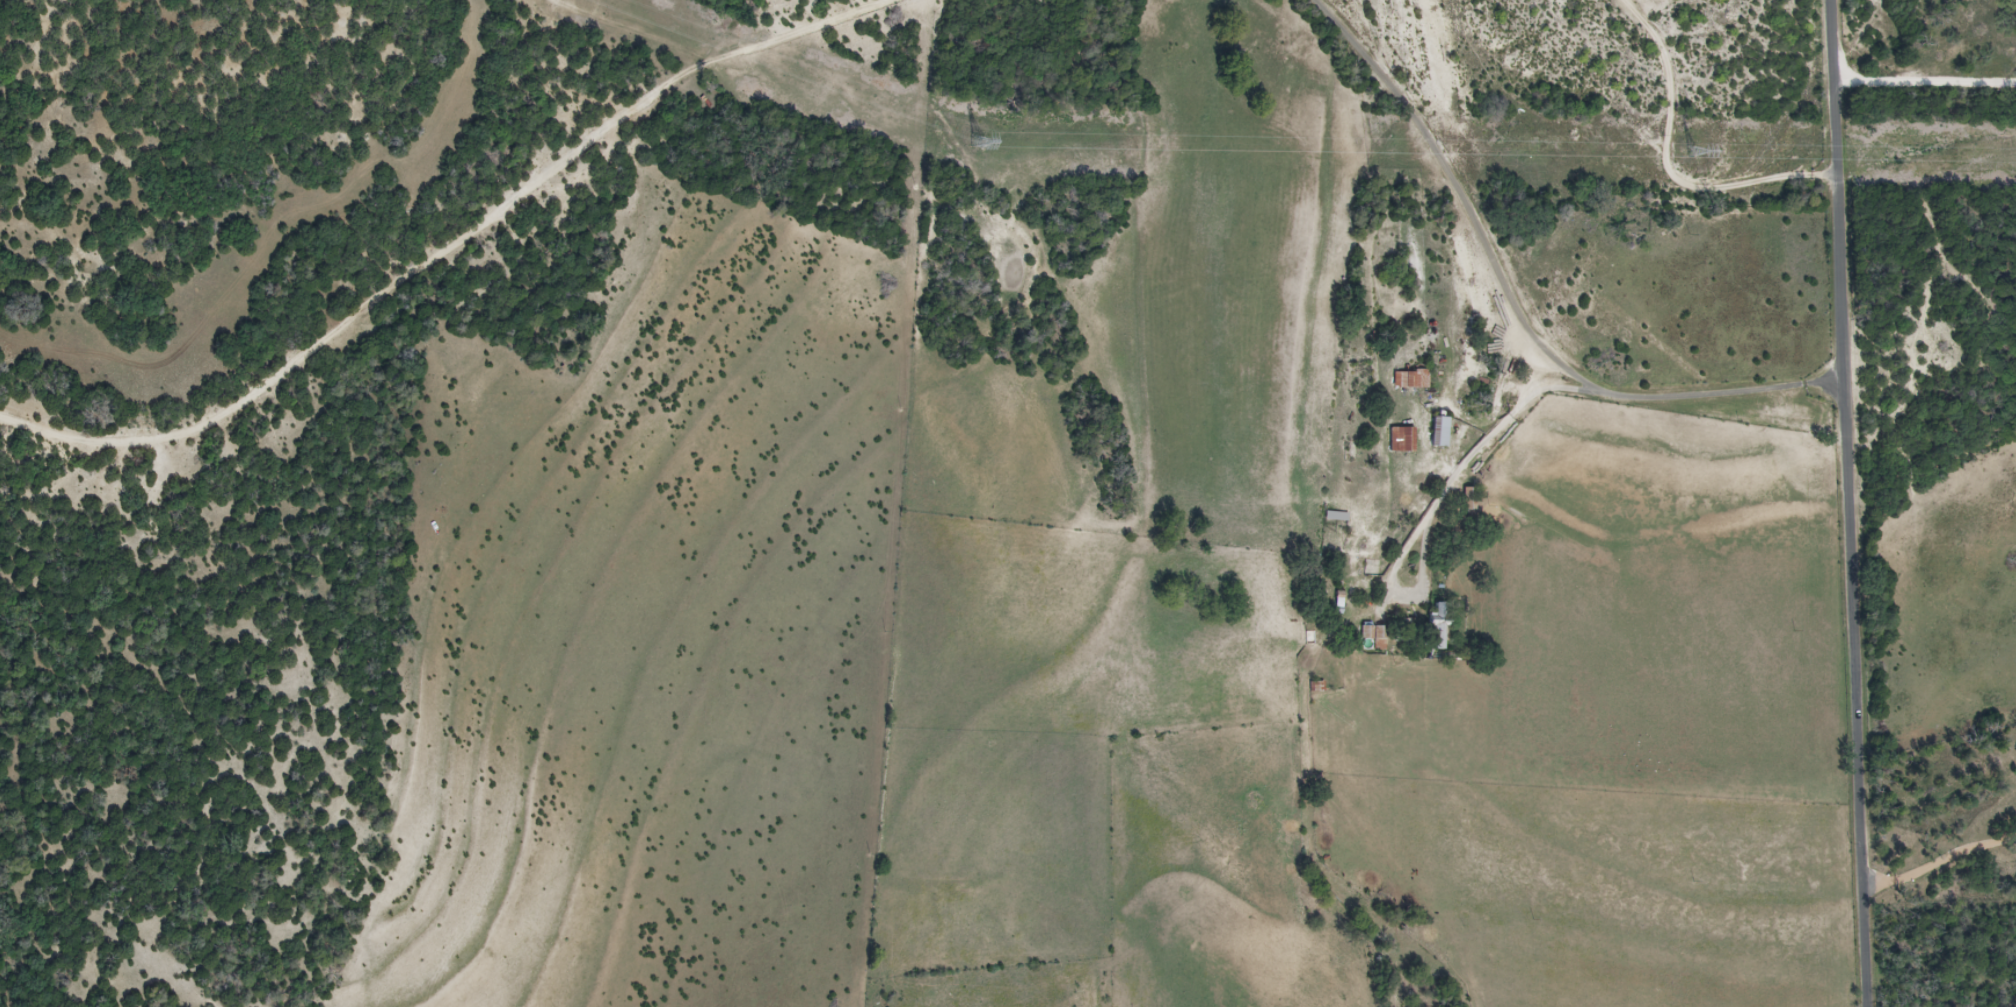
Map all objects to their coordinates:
power tower: (976, 143)
power tower: (1689, 153)
road: (1670, 164)
road: (448, 249)
road: (1514, 305)
building: (1411, 379)
building: (1439, 432)
building: (1401, 440)
road: (1848, 503)
building: (1336, 517)
building: (1438, 628)
building: (1371, 633)
road: (1315, 647)

